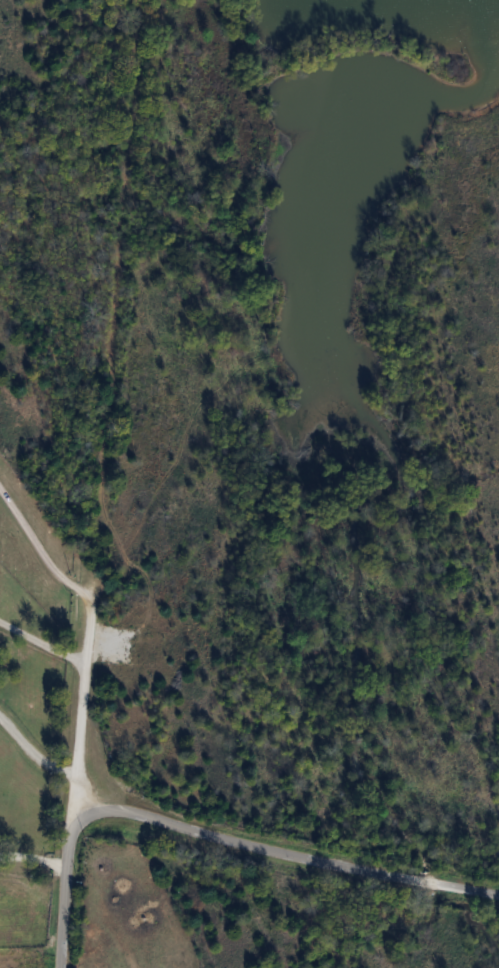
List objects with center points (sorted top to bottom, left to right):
road: (88, 635)
road: (42, 643)
road: (32, 757)
road: (293, 852)
road: (32, 864)
road: (64, 887)

